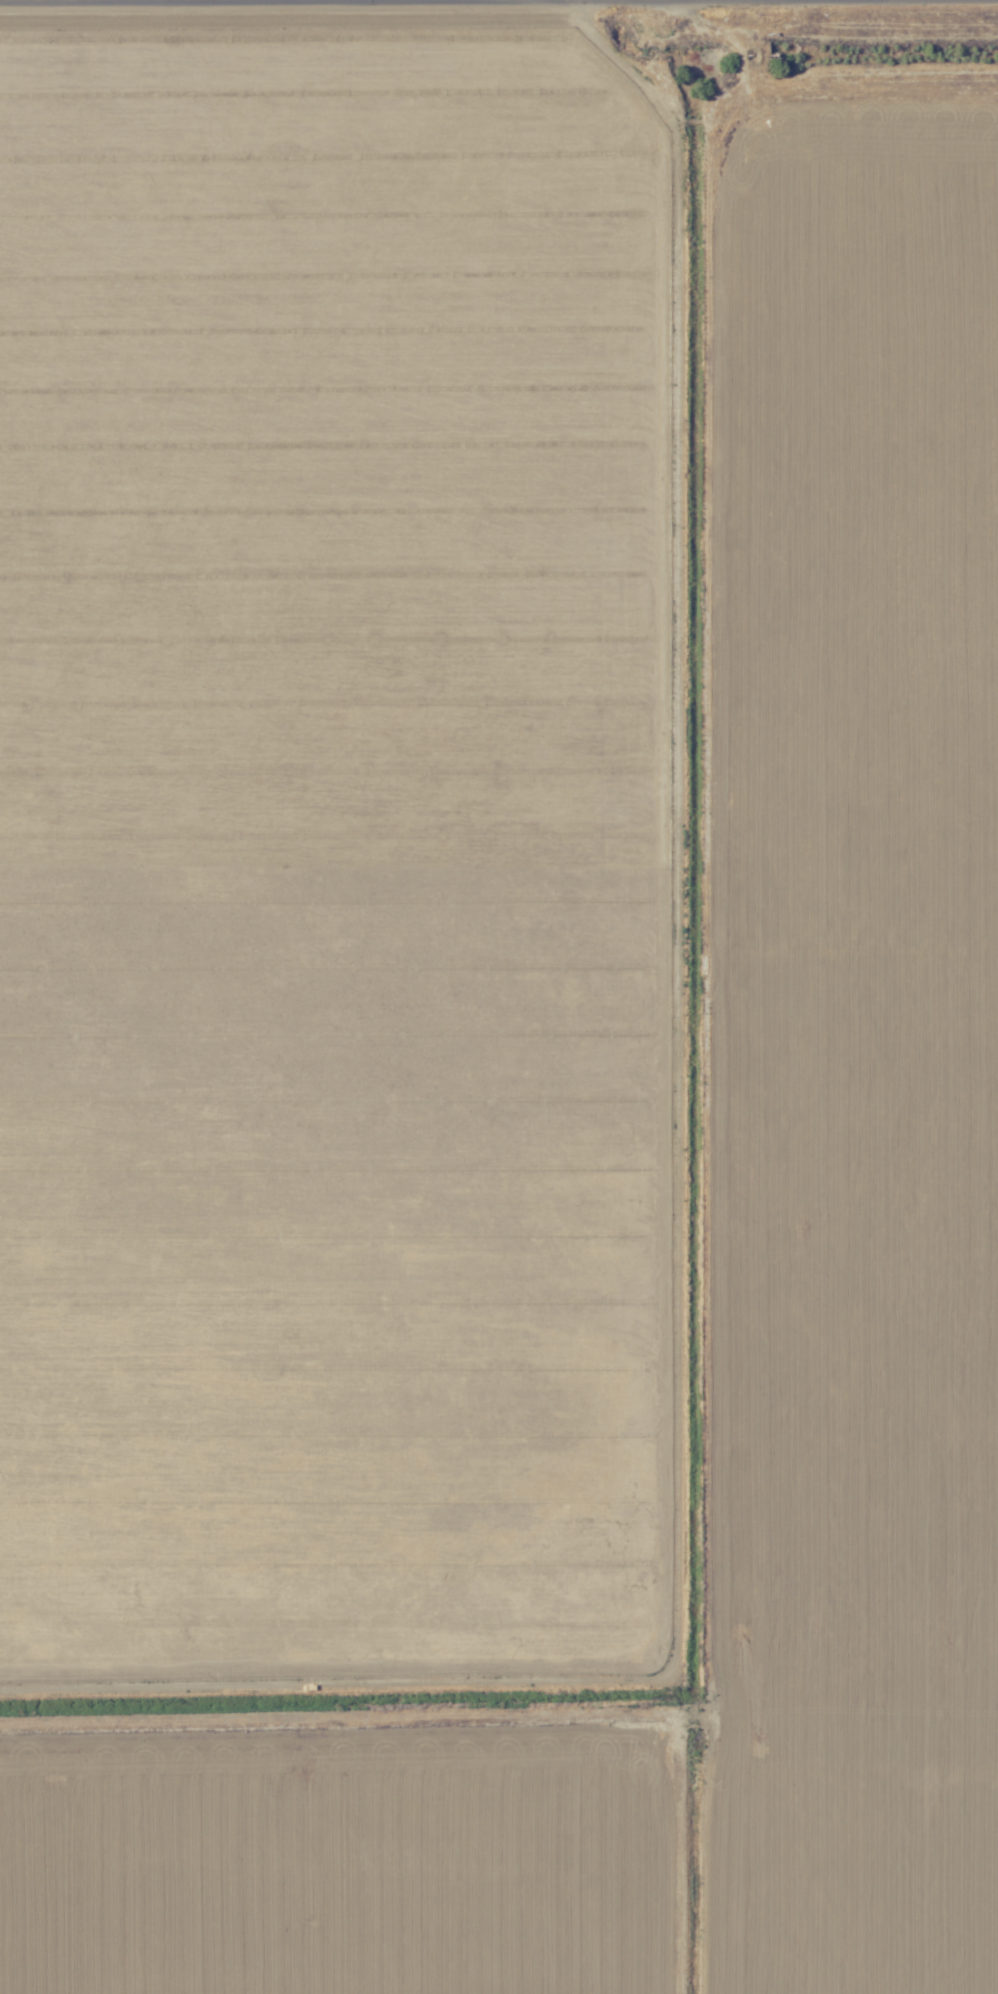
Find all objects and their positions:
road: (146, 1)

